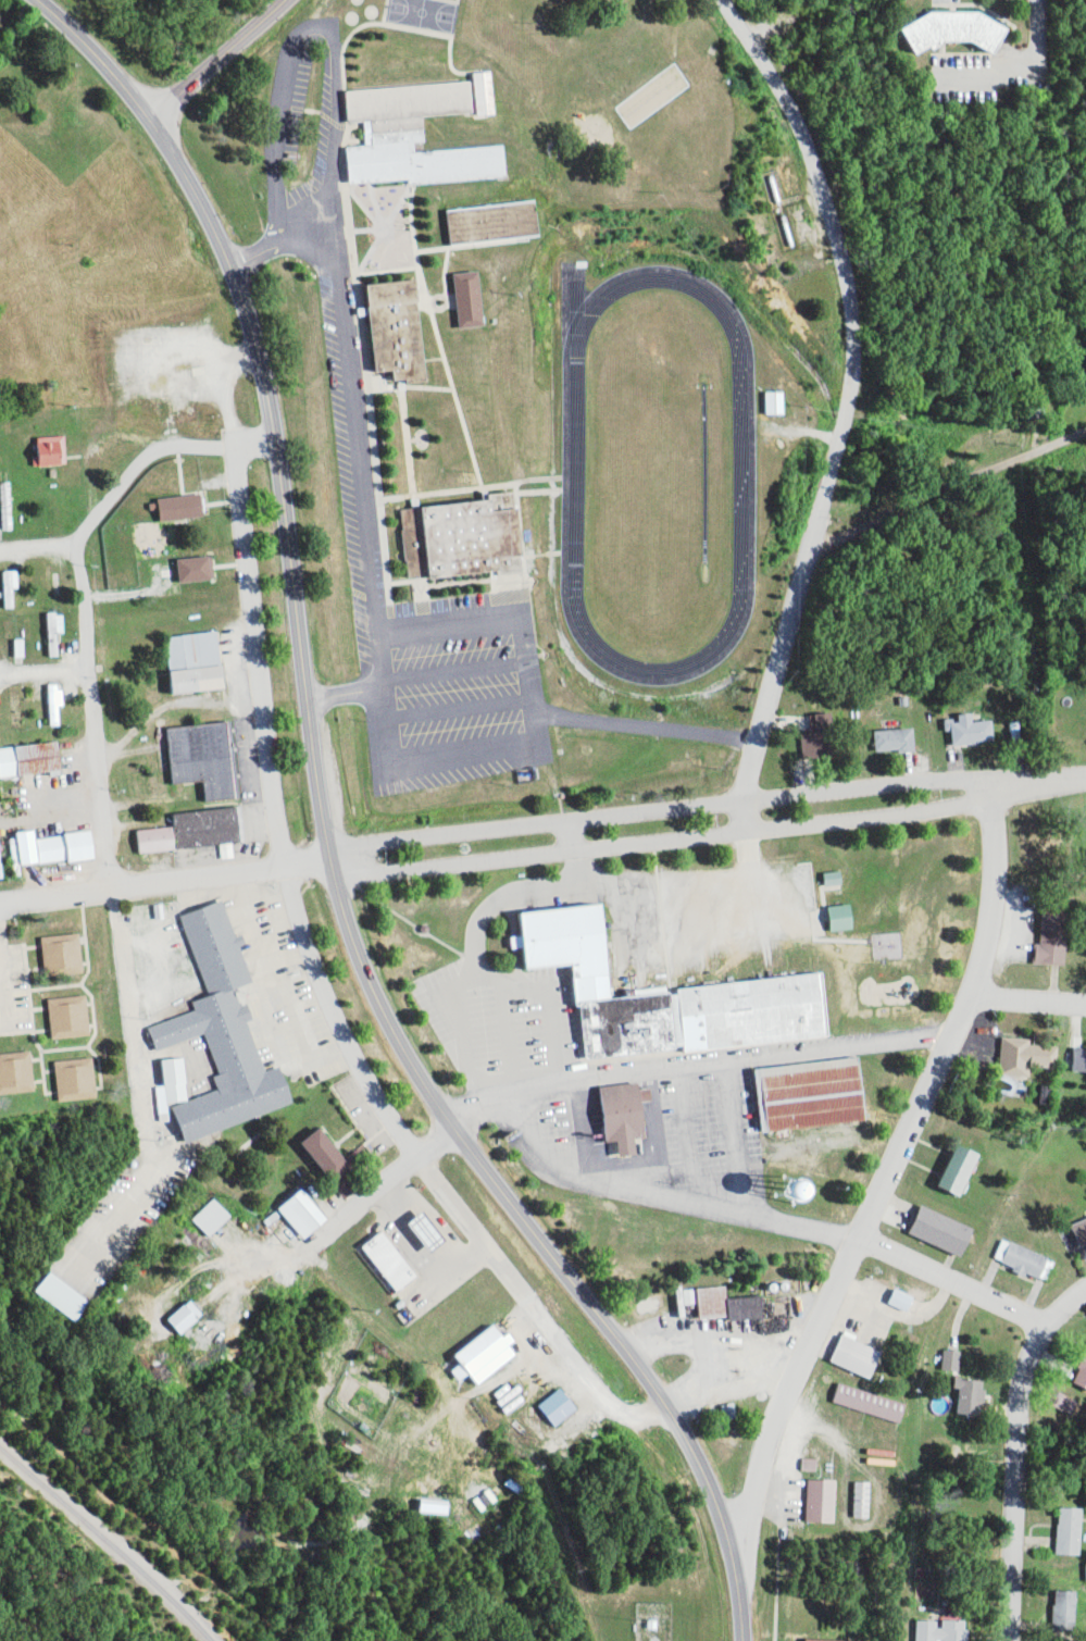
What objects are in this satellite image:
building: (965, 30)
road: (215, 59)
building: (423, 137)
building: (501, 222)
road: (841, 260)
building: (477, 299)
building: (408, 331)
building: (782, 401)
road: (158, 450)
stadium: (657, 472)
road: (949, 489)
building: (189, 507)
building: (470, 536)
road: (75, 544)
road: (37, 551)
building: (203, 568)
building: (15, 586)
building: (62, 631)
building: (27, 647)
building: (202, 661)
road: (778, 671)
road: (42, 674)
building: (63, 701)
road: (90, 719)
building: (976, 729)
building: (1022, 730)
building: (826, 736)
building: (901, 738)
building: (210, 757)
road: (1084, 776)
road: (702, 805)
building: (201, 830)
road: (706, 836)
road: (324, 842)
building: (60, 847)
building: (840, 878)
road: (163, 882)
building: (850, 917)
building: (1059, 938)
building: (527, 941)
building: (71, 954)
road: (117, 958)
road: (316, 982)
road: (3, 996)
building: (677, 996)
road: (1031, 1002)
building: (77, 1016)
building: (225, 1036)
building: (1083, 1058)
building: (22, 1071)
building: (83, 1078)
building: (820, 1093)
building: (632, 1115)
building: (336, 1154)
building: (970, 1168)
road: (883, 1183)
road: (366, 1194)
building: (312, 1214)
building: (219, 1216)
building: (1084, 1229)
building: (951, 1230)
building: (437, 1231)
building: (398, 1260)
road: (949, 1282)
building: (71, 1295)
building: (712, 1300)
building: (910, 1300)
building: (752, 1307)
road: (1062, 1307)
building: (191, 1316)
building: (494, 1354)
building: (864, 1355)
building: (959, 1359)
building: (1084, 1379)
building: (977, 1395)
building: (876, 1402)
building: (565, 1406)
building: (735, 1410)
road: (1015, 1483)
building: (870, 1499)
building: (828, 1500)
building: (1075, 1530)
railway: (108, 1539)
building: (1073, 1611)
building: (948, 1630)
building: (828, 1640)

